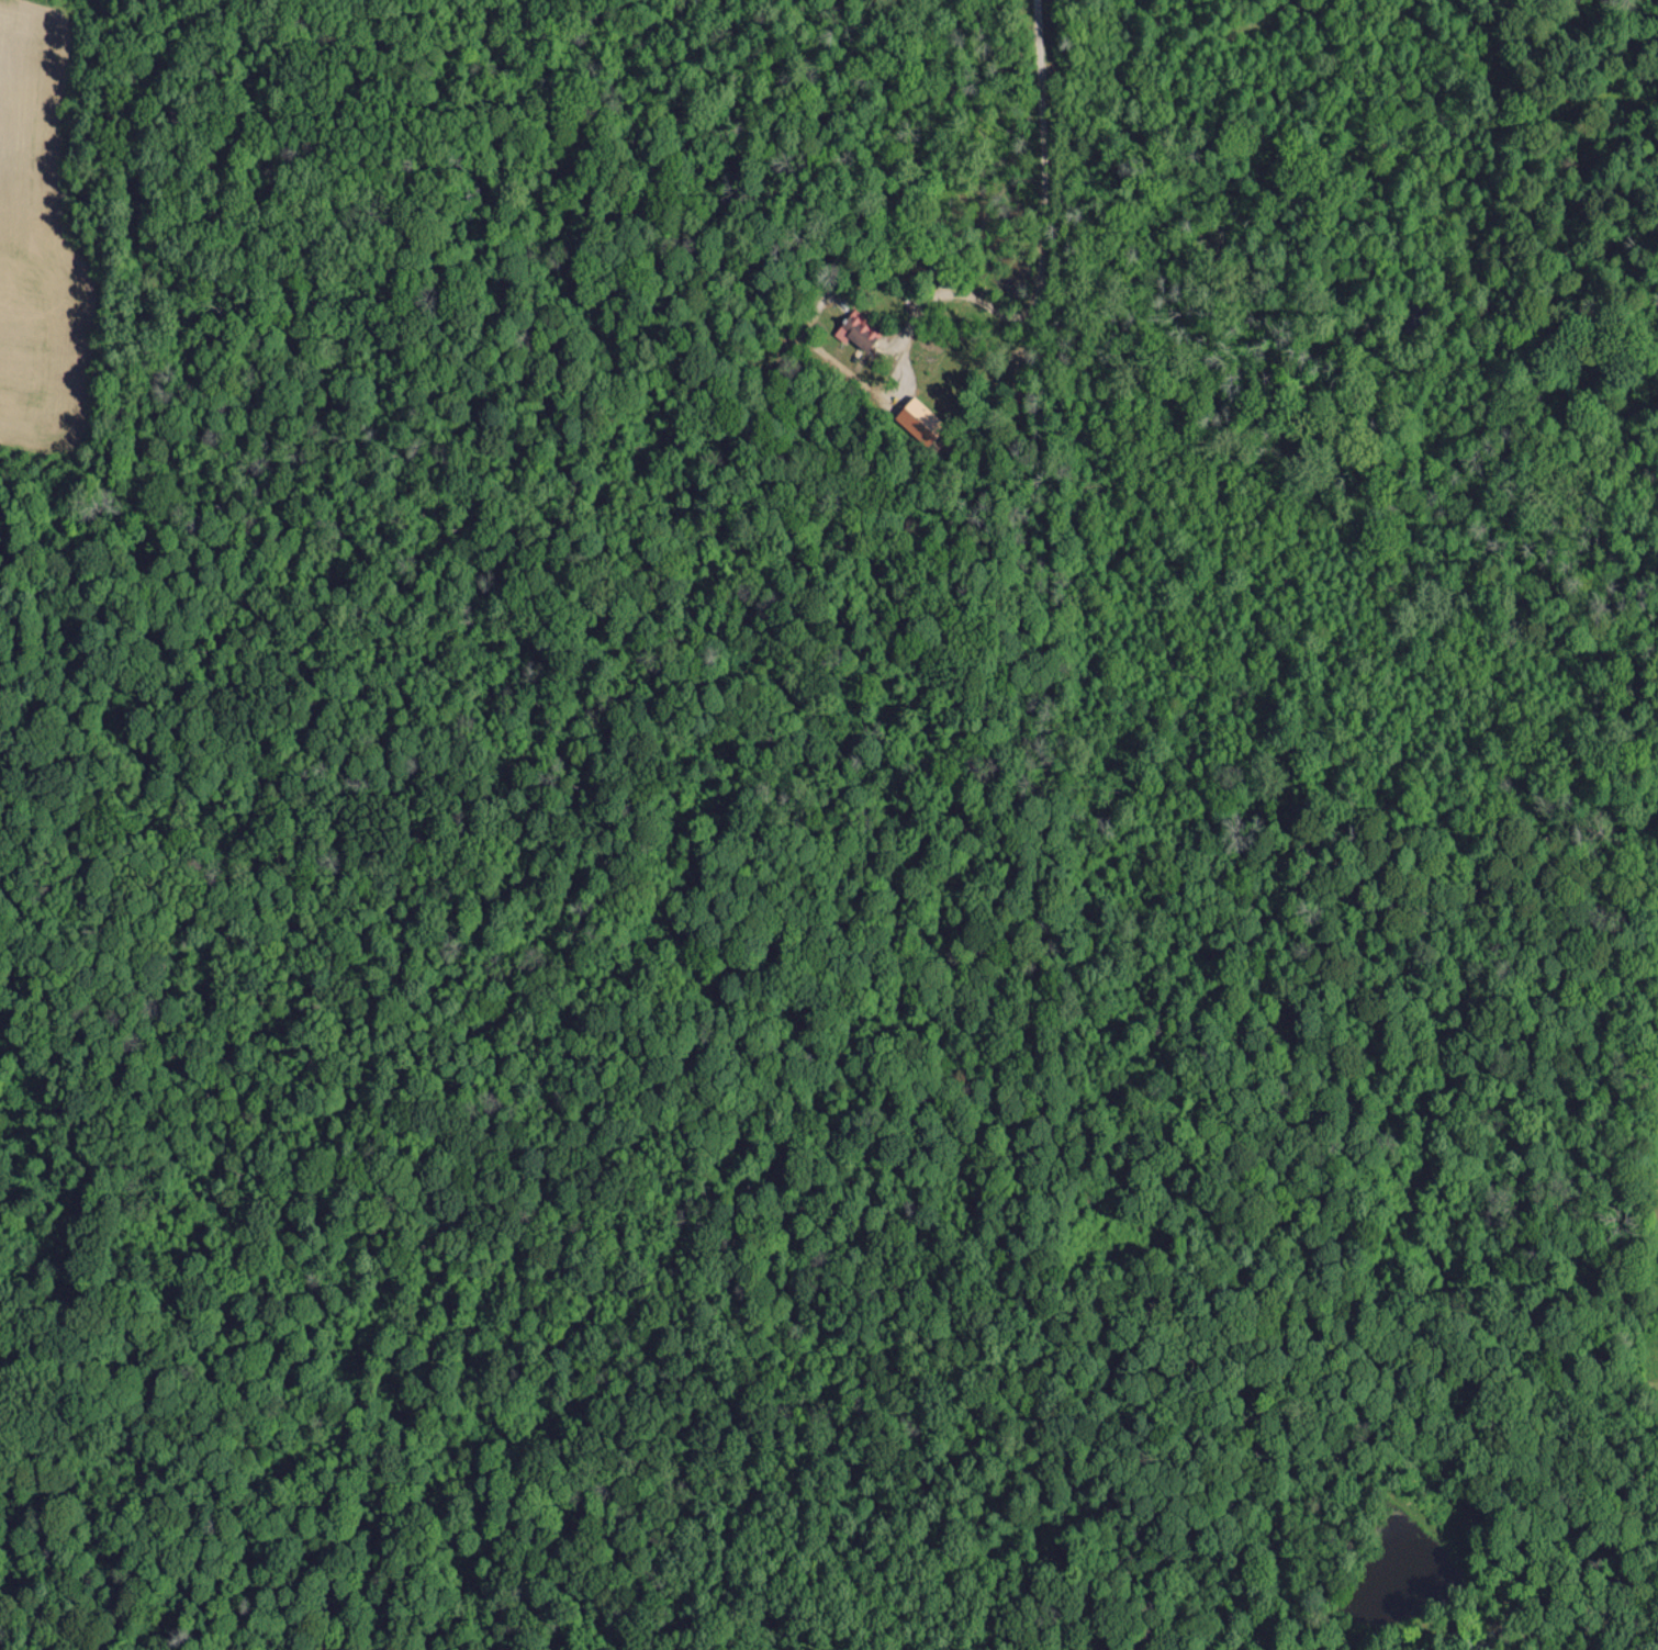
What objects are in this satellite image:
building: (858, 329)
building: (919, 420)
road: (1655, 1382)

